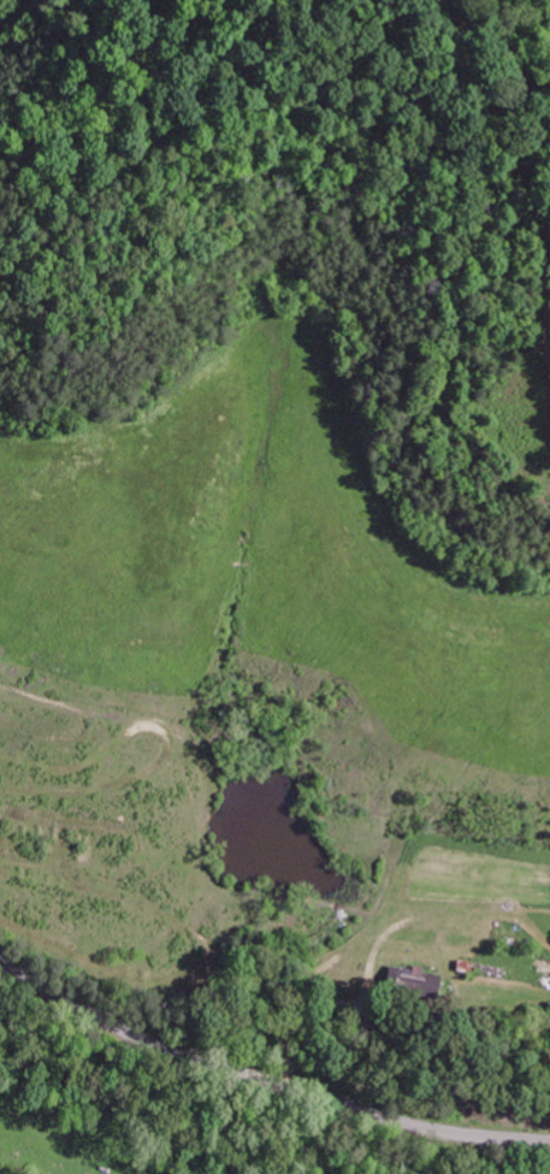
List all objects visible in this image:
building: (409, 980)
road: (262, 1085)

